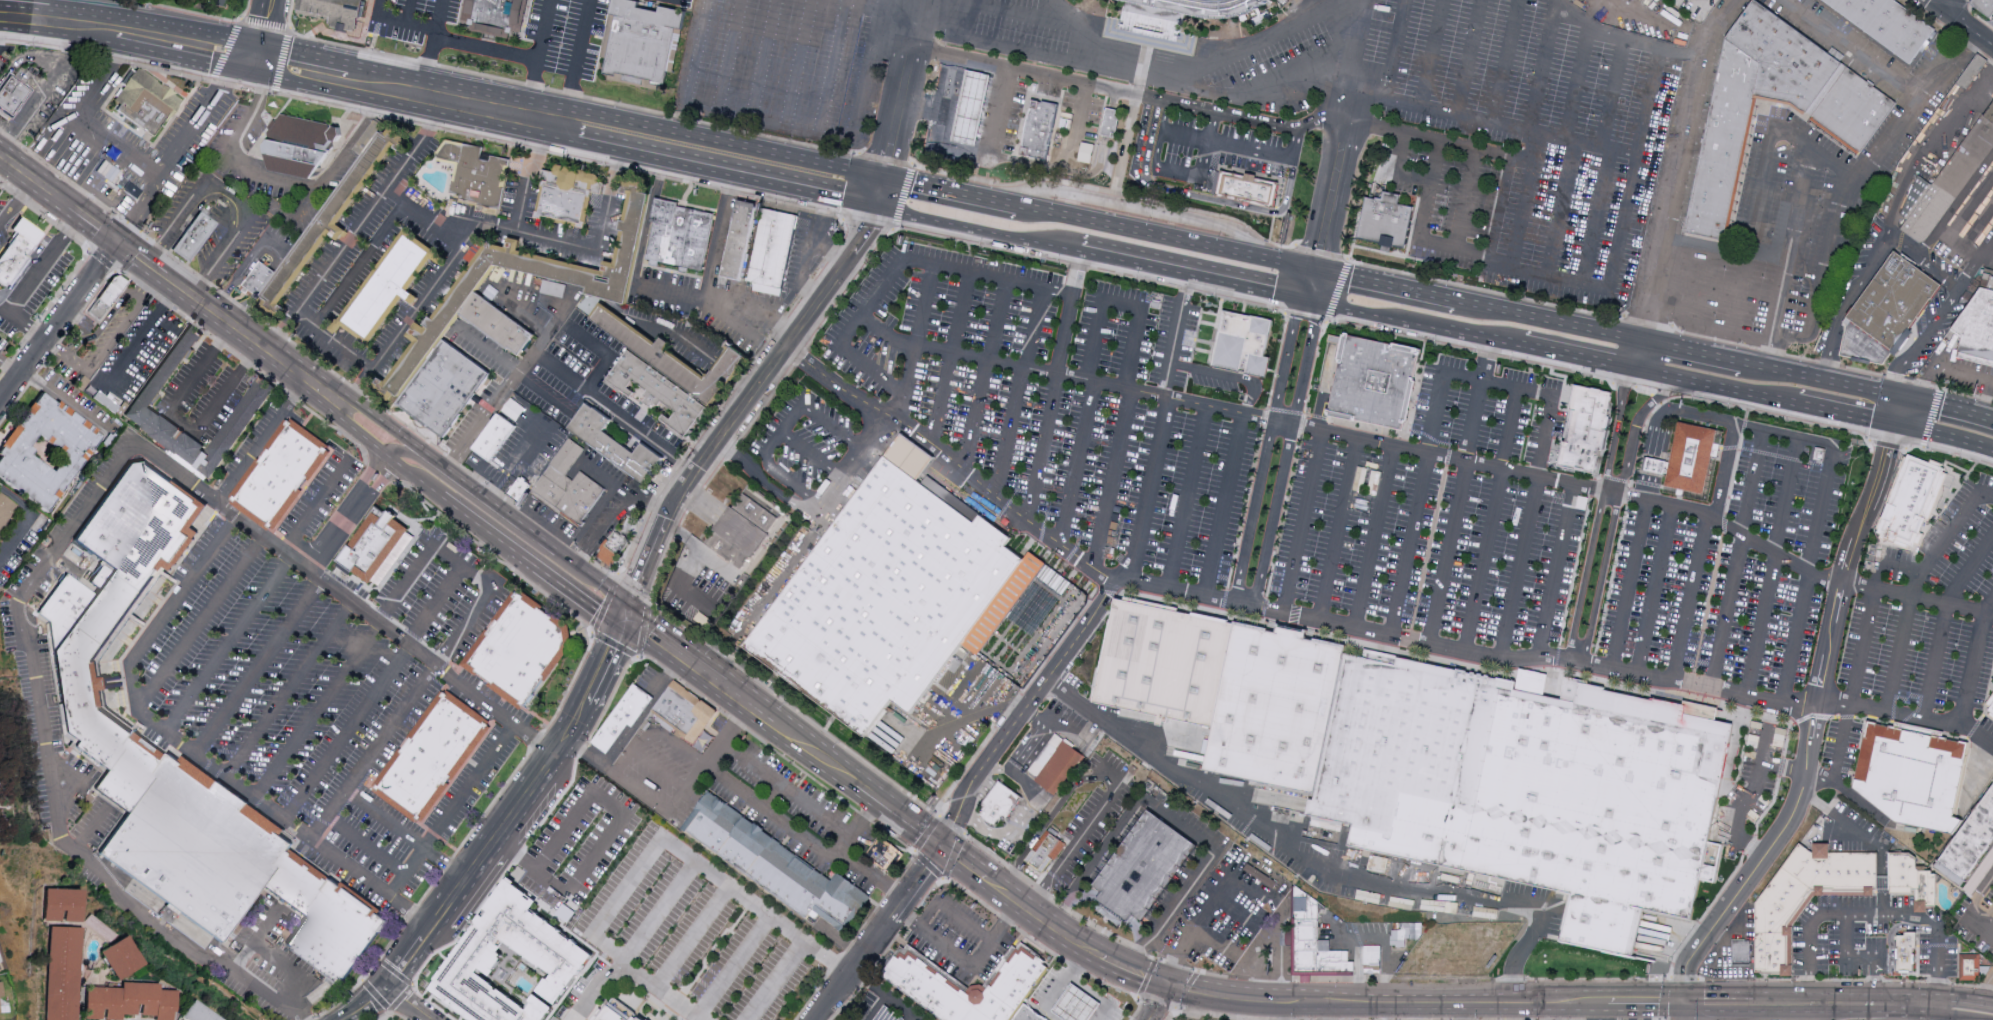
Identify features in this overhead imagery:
road: (218, 0)
road: (904, 3)
road: (1698, 5)
road: (1951, 6)
road: (27, 7)
building: (1984, 7)
road: (408, 11)
road: (1055, 11)
road: (5, 12)
building: (331, 12)
road: (5, 13)
road: (19, 13)
building: (497, 14)
building: (1180, 15)
stadium: (1180, 15)
road: (1040, 17)
road: (437, 18)
road: (75, 20)
road: (398, 20)
road: (1586, 22)
road: (1961, 22)
road: (918, 24)
building: (1886, 24)
road: (951, 25)
road: (265, 28)
road: (543, 29)
road: (1398, 37)
building: (642, 44)
road: (486, 48)
road: (1013, 49)
road: (1659, 49)
road: (1851, 49)
road: (695, 52)
road: (1431, 55)
road: (729, 56)
traffic signals: (258, 57)
road: (1223, 57)
road: (25, 58)
road: (1359, 58)
road: (762, 59)
road: (1470, 59)
parking lot: (868, 60)
road: (578, 61)
road: (798, 63)
road: (1506, 63)
road: (832, 67)
road: (1541, 67)
road: (866, 69)
road: (1374, 72)
road: (344, 75)
road: (1575, 83)
road: (45, 87)
road: (1099, 87)
road: (1388, 88)
road: (1082, 91)
road: (1265, 91)
road: (1126, 92)
building: (11, 96)
road: (1609, 97)
building: (147, 103)
road: (251, 109)
building: (970, 109)
road: (1243, 117)
road: (1132, 121)
road: (7, 122)
road: (767, 123)
gas station: (1020, 123)
building: (1110, 123)
road: (1492, 126)
road: (896, 127)
parking lot: (1452, 129)
road: (995, 130)
building: (1038, 131)
road: (1150, 131)
building: (1855, 136)
road: (354, 137)
building: (369, 137)
road: (1424, 137)
road: (725, 140)
road: (1223, 143)
road: (1207, 144)
road: (1929, 148)
building: (300, 149)
building: (1087, 151)
road: (1680, 151)
road: (1814, 151)
road: (1401, 153)
road: (1295, 154)
road: (131, 156)
road: (0, 157)
road: (1172, 171)
building: (475, 172)
road: (718, 172)
road: (1083, 173)
traffic signals: (885, 175)
road: (529, 176)
road: (1336, 176)
road: (268, 178)
road: (1413, 178)
road: (34, 180)
building: (1947, 181)
road: (1854, 184)
building: (127, 187)
road: (1630, 187)
road: (955, 189)
road: (1761, 189)
building: (1246, 190)
road: (1427, 191)
building: (566, 196)
road: (232, 199)
road: (1463, 200)
road: (1221, 201)
road: (18, 204)
road: (1797, 205)
traffic signals: (877, 207)
road: (138, 209)
road: (1560, 209)
road: (1143, 210)
road: (1596, 216)
road: (424, 217)
building: (1384, 221)
road: (90, 222)
building: (329, 222)
road: (966, 226)
road: (501, 231)
road: (1150, 232)
road: (1943, 235)
road: (1509, 237)
traffic signals: (113, 239)
building: (194, 239)
road: (723, 239)
building: (680, 241)
road: (275, 243)
building: (742, 243)
road: (345, 245)
road: (1984, 247)
road: (807, 249)
road: (1447, 249)
road: (1312, 251)
road: (1724, 251)
road: (1323, 253)
road: (1909, 253)
building: (775, 254)
building: (18, 256)
road: (1288, 262)
road: (359, 265)
road: (41, 267)
road: (1313, 268)
road: (898, 269)
road: (1176, 271)
road: (1967, 274)
building: (260, 279)
road: (1300, 281)
road: (1321, 285)
road: (1701, 285)
building: (388, 286)
road: (1400, 286)
road: (146, 287)
building: (614, 292)
road: (1740, 293)
building: (108, 298)
road: (1308, 299)
road: (704, 300)
traffic signals: (1319, 301)
road: (753, 304)
road: (1121, 305)
road: (1341, 305)
road: (1069, 312)
building: (1886, 312)
road: (1382, 313)
road: (1774, 313)
road: (520, 315)
road: (1669, 316)
road: (56, 319)
road: (1556, 321)
road: (230, 324)
road: (1641, 325)
road: (24, 326)
building: (1977, 326)
building: (502, 327)
road: (552, 327)
road: (99, 328)
road: (1455, 328)
road: (1730, 330)
road: (142, 334)
road: (886, 334)
road: (1176, 335)
road: (916, 345)
building: (1242, 346)
road: (104, 349)
road: (53, 350)
road: (1695, 351)
road: (1569, 353)
road: (1633, 353)
road: (950, 358)
road: (1485, 359)
building: (680, 360)
road: (987, 360)
road: (1943, 365)
road: (9, 366)
road: (984, 374)
road: (1225, 379)
road: (1828, 380)
road: (1710, 383)
building: (1372, 384)
road: (1499, 385)
road: (585, 388)
road: (360, 390)
building: (448, 391)
road: (500, 391)
road: (1019, 391)
building: (148, 396)
traffic signals: (1904, 396)
building: (662, 398)
road: (65, 401)
road: (602, 404)
road: (741, 405)
road: (1948, 406)
road: (1843, 411)
road: (1674, 412)
road: (377, 419)
road: (821, 420)
road: (184, 422)
traffic signals: (1896, 422)
building: (1585, 428)
road: (1944, 433)
road: (360, 435)
road: (1781, 435)
building: (495, 437)
road: (262, 443)
road: (1384, 445)
road: (773, 446)
road: (1042, 446)
building: (618, 447)
building: (46, 450)
road: (521, 451)
road: (1266, 451)
road: (1286, 456)
building: (1686, 459)
road: (435, 460)
road: (860, 463)
road: (1076, 463)
road: (1650, 466)
road: (1721, 470)
building: (283, 476)
road: (1110, 480)
building: (568, 486)
road: (766, 486)
road: (1647, 487)
building: (519, 490)
road: (1146, 490)
road: (1185, 497)
road: (1003, 500)
building: (1913, 504)
road: (316, 505)
road: (479, 505)
road: (1223, 505)
road: (1617, 505)
road: (597, 506)
building: (5, 507)
road: (458, 510)
road: (1597, 512)
road: (348, 513)
road: (507, 513)
road: (1453, 514)
road: (617, 516)
parking lot: (1408, 517)
road: (28, 519)
road: (1489, 520)
road: (1301, 523)
road: (1338, 531)
road: (69, 533)
building: (740, 534)
road: (1373, 538)
building: (376, 545)
road: (555, 549)
building: (612, 550)
road: (1738, 560)
road: (787, 564)
road: (1771, 567)
road: (1554, 570)
road: (1805, 574)
road: (595, 579)
road: (1841, 583)
road: (1630, 585)
road: (1913, 586)
road: (1656, 590)
road: (184, 593)
road: (575, 596)
road: (1692, 598)
building: (909, 603)
road: (437, 607)
building: (113, 614)
road: (1989, 615)
road: (1944, 621)
road: (201, 623)
road: (595, 636)
road: (1830, 644)
road: (229, 645)
road: (450, 646)
building: (524, 652)
road: (1861, 653)
building: (1162, 659)
road: (1601, 664)
road: (1974, 665)
road: (260, 667)
parking lot: (320, 667)
road: (698, 669)
road: (1040, 687)
road: (291, 691)
building: (1990, 705)
building: (1274, 707)
building: (683, 712)
road: (321, 713)
building: (623, 718)
road: (1057, 725)
road: (349, 733)
road: (641, 740)
road: (718, 748)
road: (679, 749)
road: (814, 756)
building: (434, 760)
road: (209, 764)
road: (601, 764)
building: (1054, 765)
road: (1783, 766)
road: (660, 770)
building: (1910, 774)
road: (1119, 779)
building: (1527, 789)
road: (787, 791)
road: (1847, 792)
road: (1750, 797)
road: (654, 803)
building: (999, 808)
road: (451, 812)
road: (486, 813)
road: (897, 817)
road: (1173, 821)
road: (335, 824)
road: (953, 824)
road: (860, 827)
road: (1829, 828)
road: (500, 830)
road: (606, 830)
road: (91, 831)
road: (407, 835)
road: (804, 839)
building: (1968, 840)
building: (197, 846)
road: (367, 847)
traffic signals: (939, 849)
building: (1045, 853)
building: (884, 857)
road: (963, 865)
building: (775, 867)
building: (1144, 868)
road: (1317, 869)
road: (922, 873)
building: (1835, 874)
road: (1880, 879)
building: (1911, 880)
road: (372, 885)
road: (625, 888)
road: (134, 891)
building: (63, 903)
road: (755, 907)
building: (1781, 908)
road: (1969, 911)
road: (657, 913)
road: (1870, 914)
building: (327, 921)
road: (964, 921)
road: (919, 926)
road: (1054, 930)
road: (1988, 930)
road: (690, 937)
road: (259, 940)
parking lot: (960, 940)
road: (1703, 942)
road: (209, 943)
building: (1315, 948)
road: (605, 950)
building: (121, 955)
building: (1742, 955)
road: (1844, 956)
building: (1905, 957)
building: (510, 959)
road: (860, 959)
building: (1773, 959)
road: (965, 961)
building: (1372, 964)
road: (1077, 966)
building: (1970, 967)
road: (733, 968)
building: (63, 972)
road: (290, 972)
road: (1147, 978)
road: (774, 981)
traffic signals: (1170, 986)
building: (925, 987)
building: (0, 988)
road: (1875, 988)
road: (598, 991)
road: (659, 991)
road: (1982, 993)
road: (884, 995)
road: (401, 998)
road: (1220, 998)
building: (129, 1000)
road: (407, 1002)
road: (1162, 1003)
building: (1076, 1005)
road: (1439, 1005)
road: (1643, 1006)
traffic signals: (1680, 1006)
road: (1720, 1006)
road: (1841, 1006)
road: (1958, 1007)
road: (878, 1008)
road: (1246, 1011)
building: (196, 1012)
building: (619, 1012)
road: (1285, 1012)
road: (1332, 1012)
road: (1382, 1012)
road: (1460, 1012)
road: (1922, 1012)
road: (1554, 1013)
road: (1616, 1013)
road: (1681, 1013)
road: (1821, 1013)
building: (1028, 1015)
road: (910, 1018)

